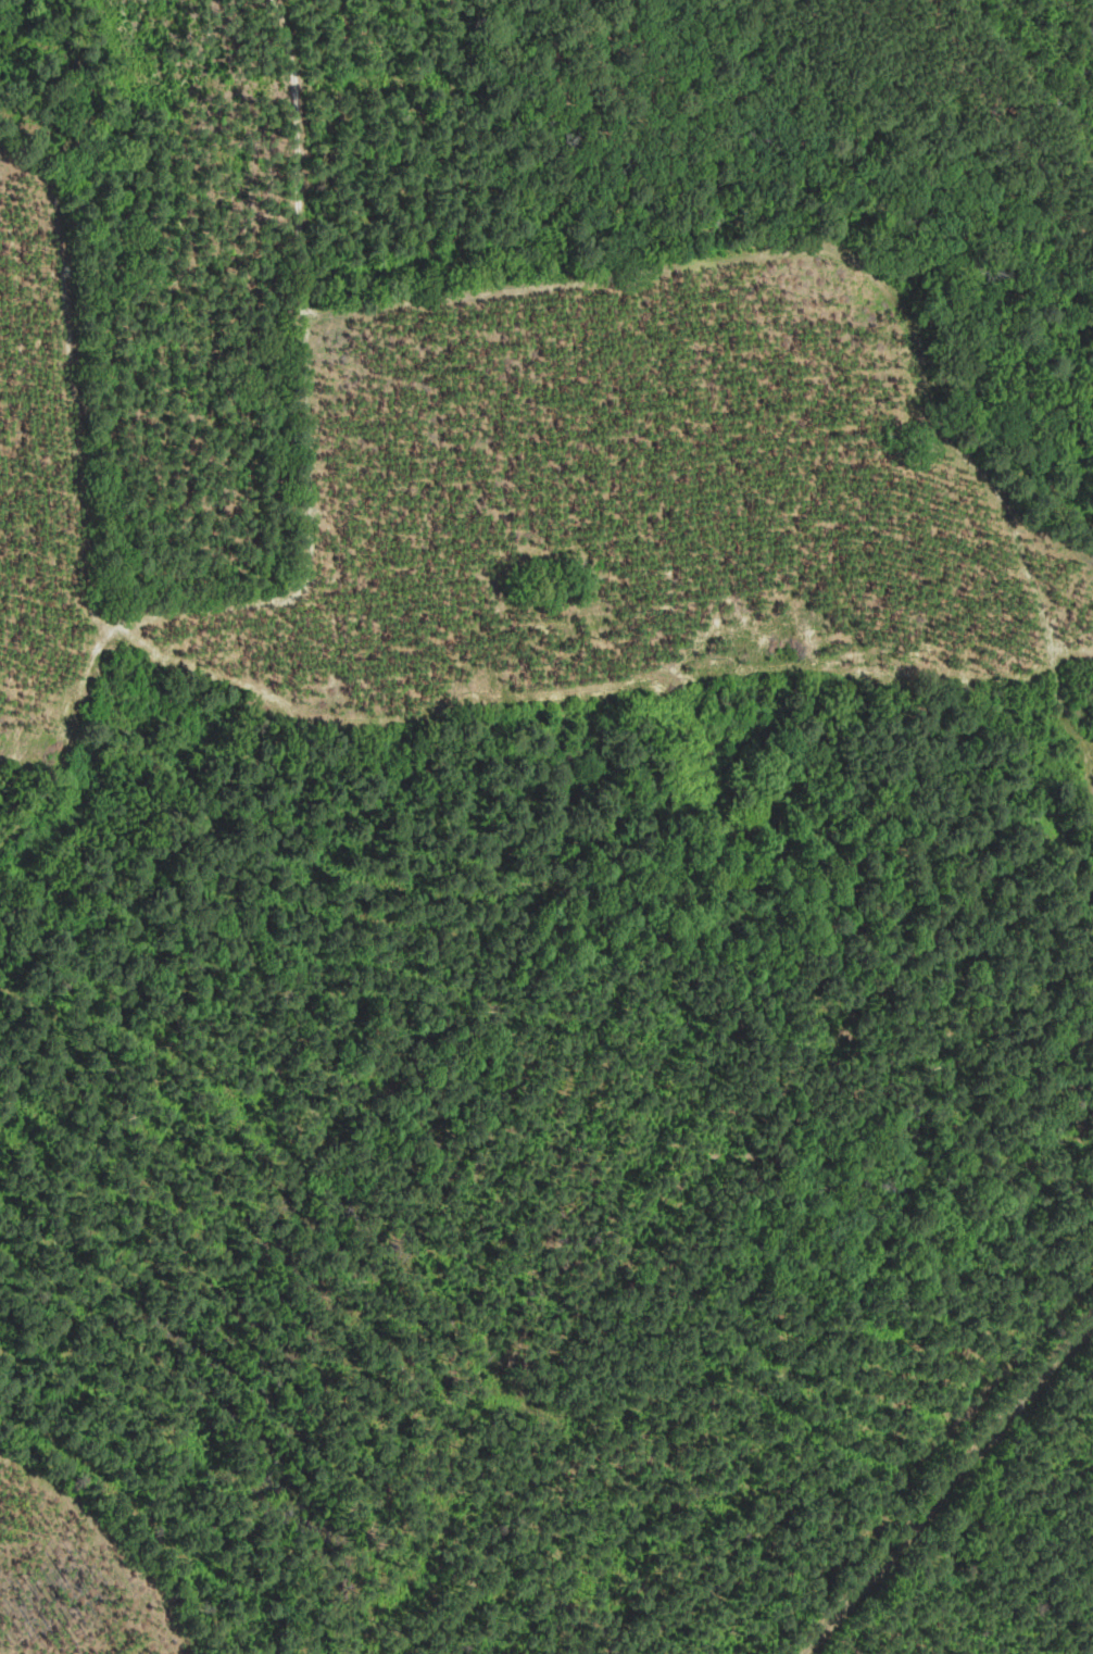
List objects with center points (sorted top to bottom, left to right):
railway: (946, 1487)

